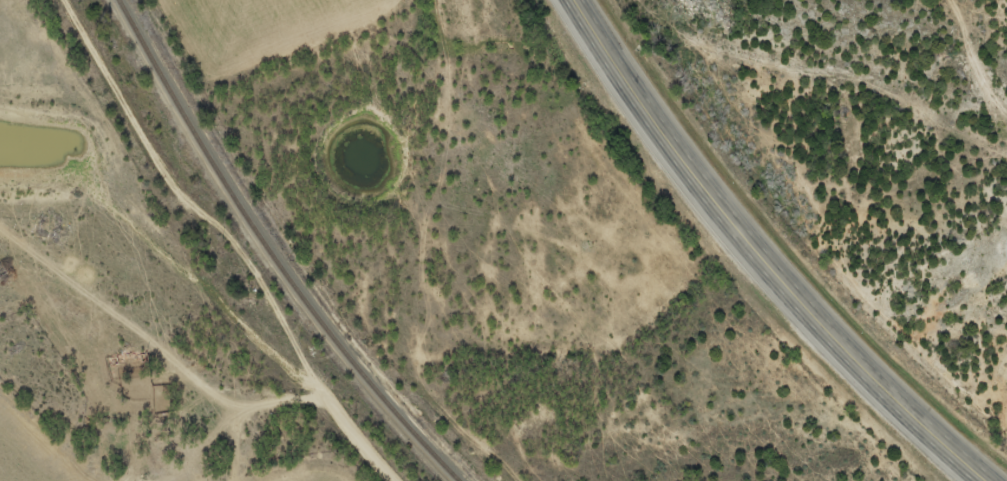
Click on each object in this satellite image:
railway: (269, 253)
road: (755, 254)
road: (136, 296)
building: (129, 365)

